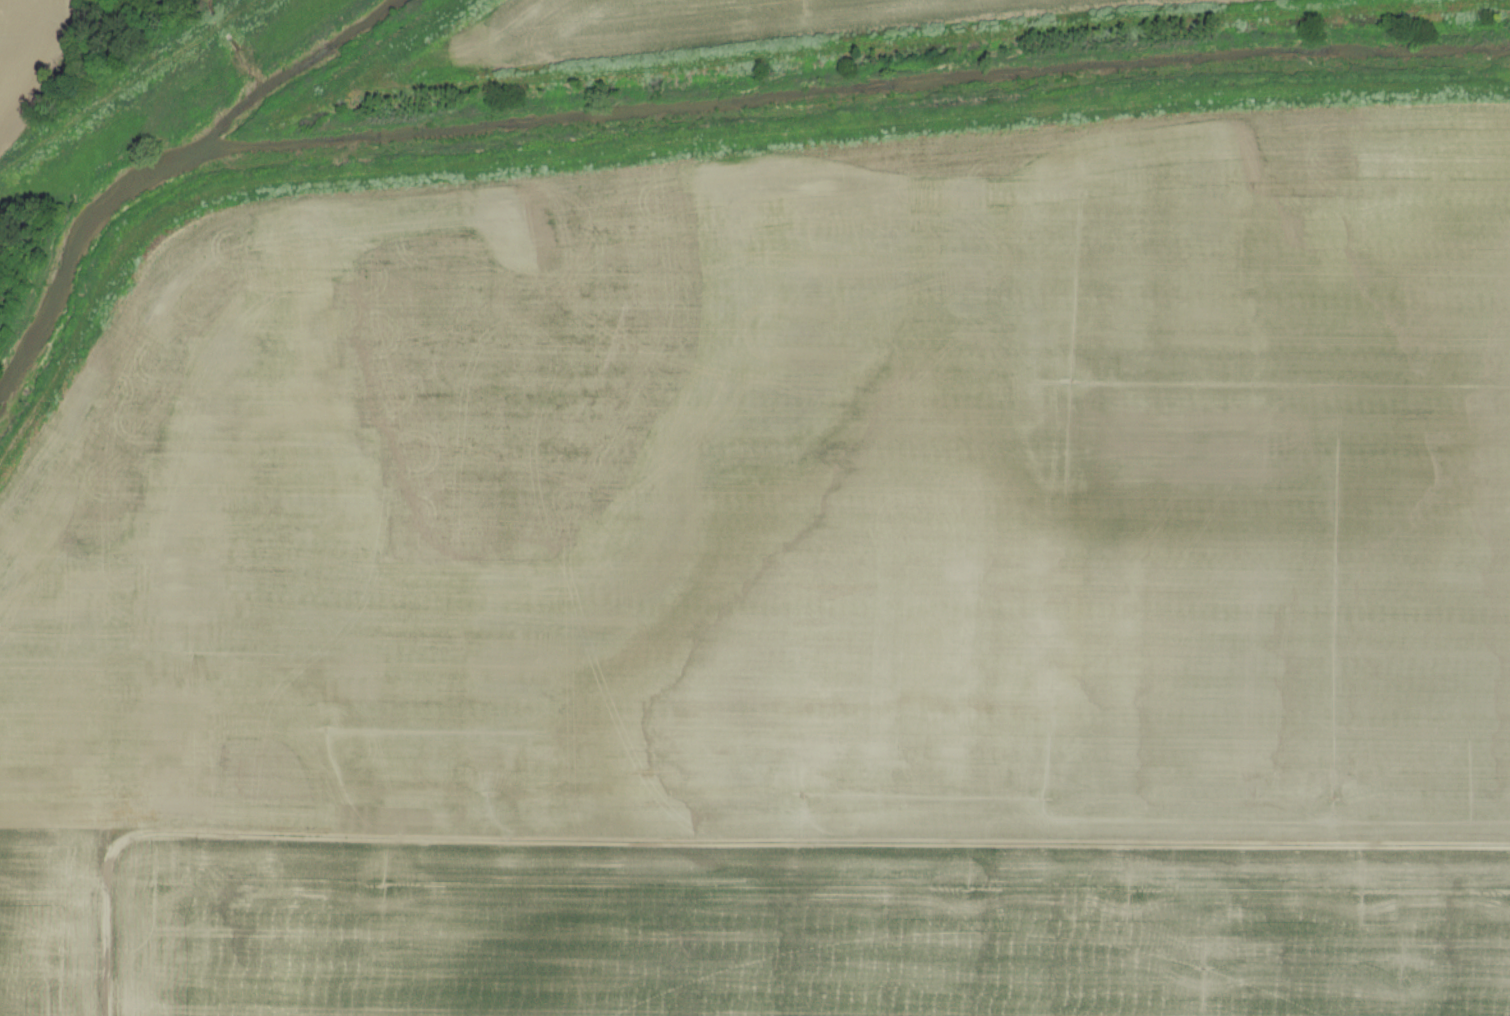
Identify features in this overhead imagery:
river: (840, 90)
river: (69, 265)
road: (793, 844)
road: (108, 948)

